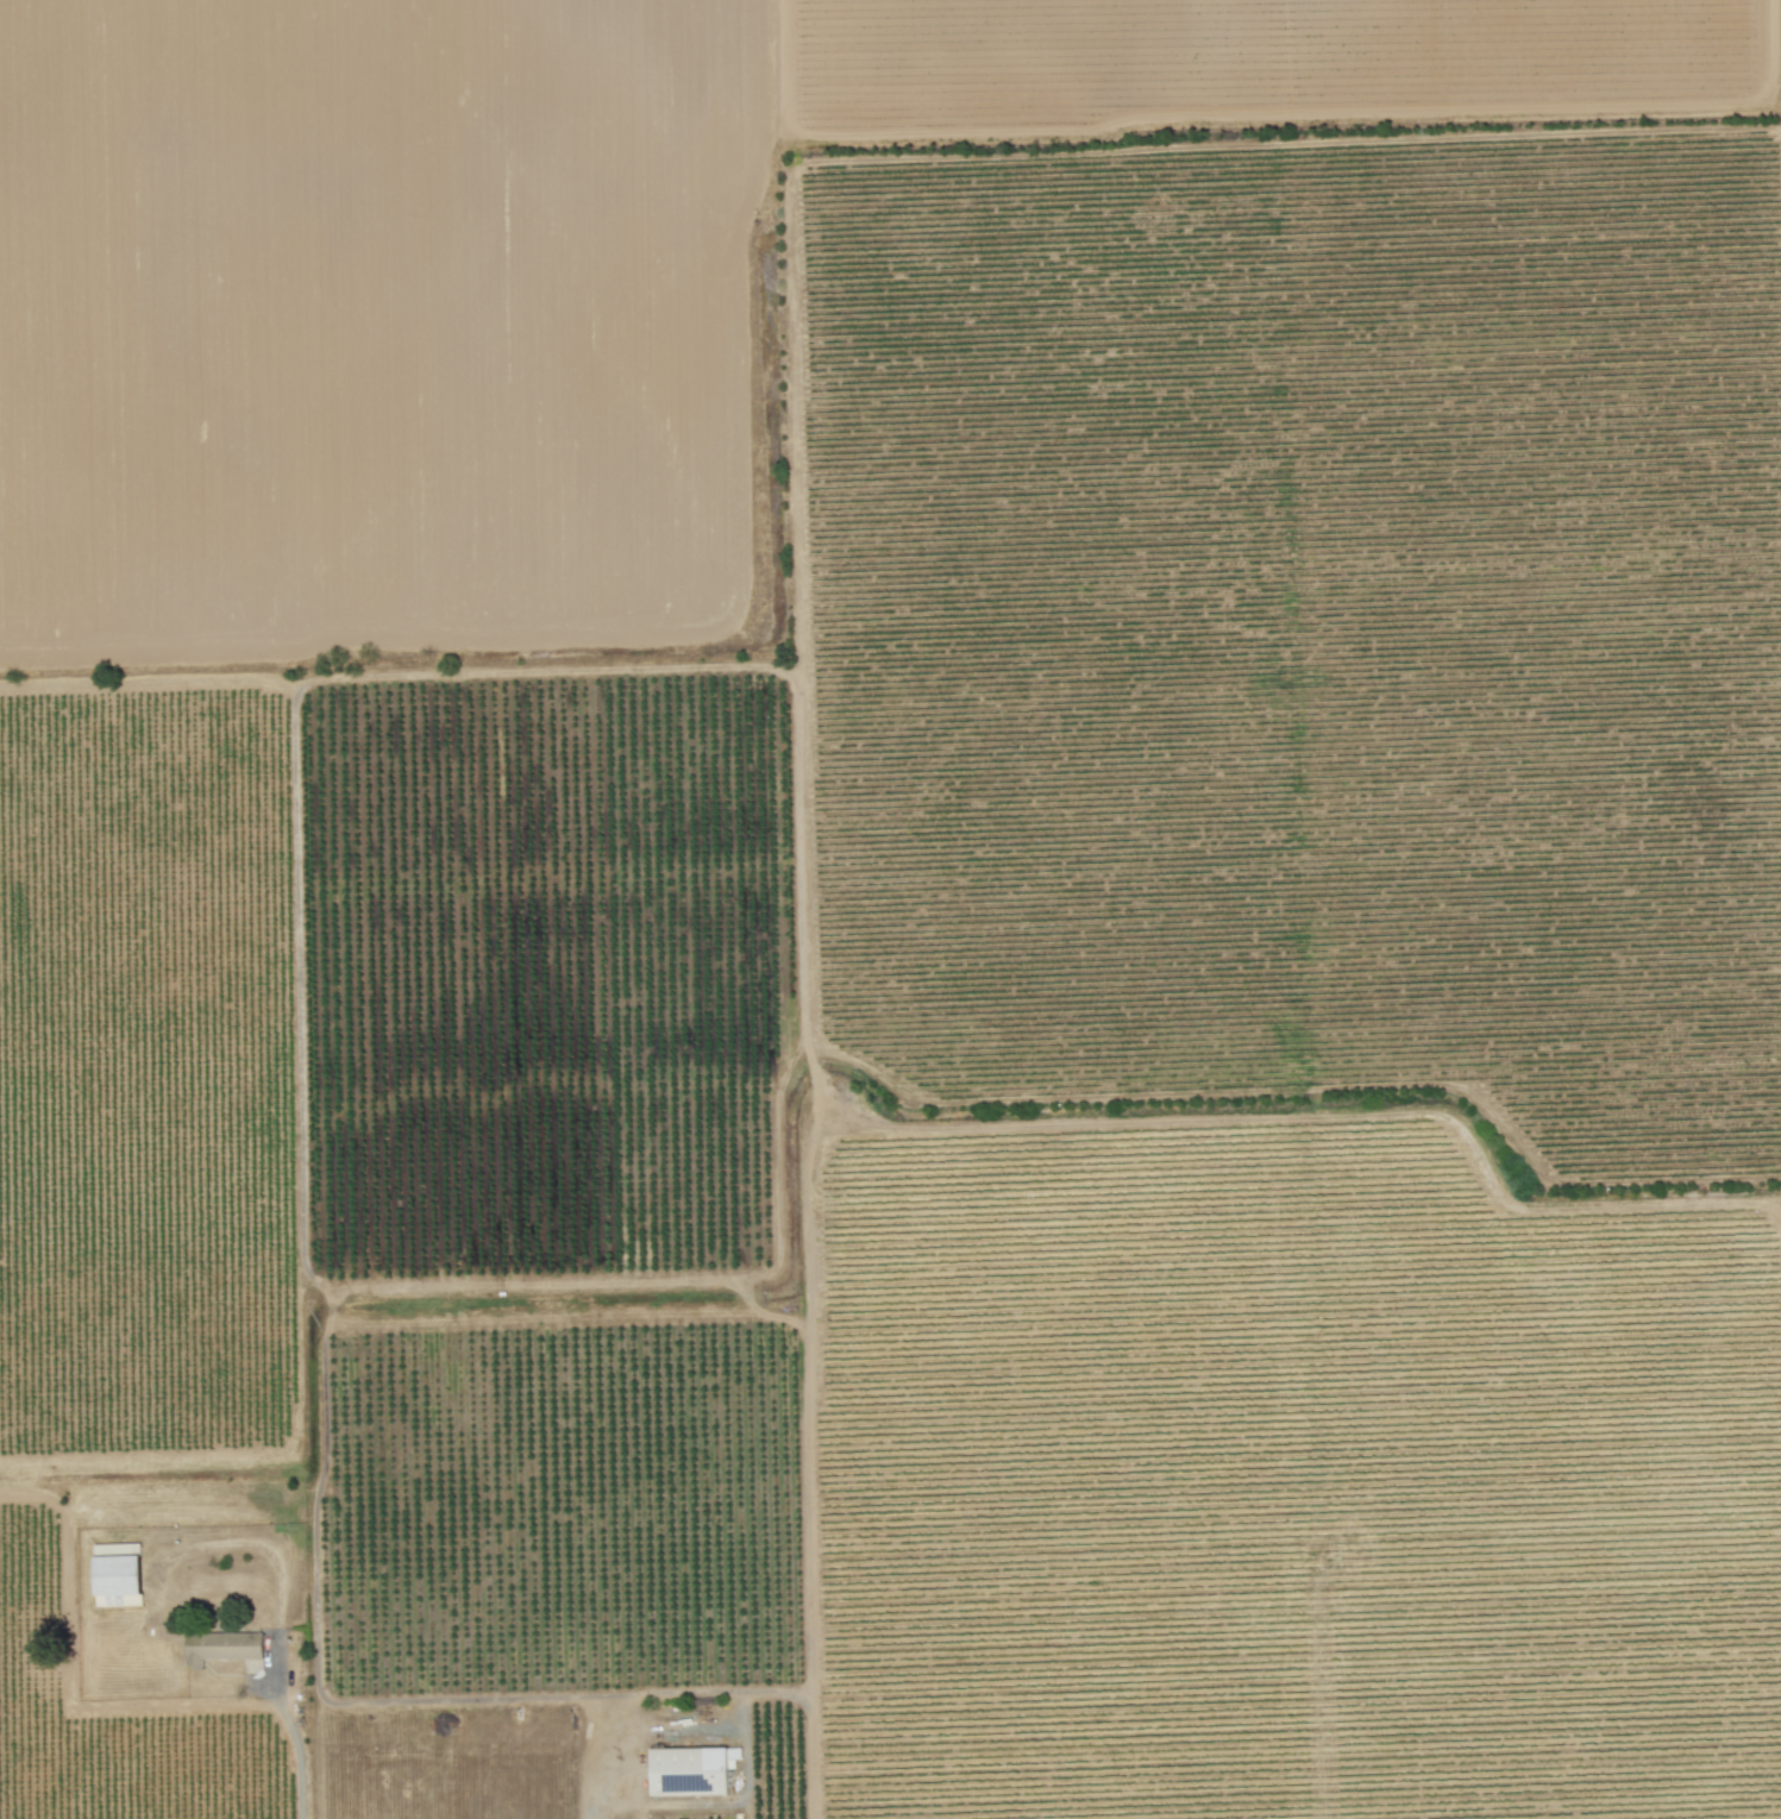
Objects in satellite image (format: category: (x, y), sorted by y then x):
building: (117, 1575)
building: (220, 1648)
road: (293, 1749)
building: (690, 1770)

